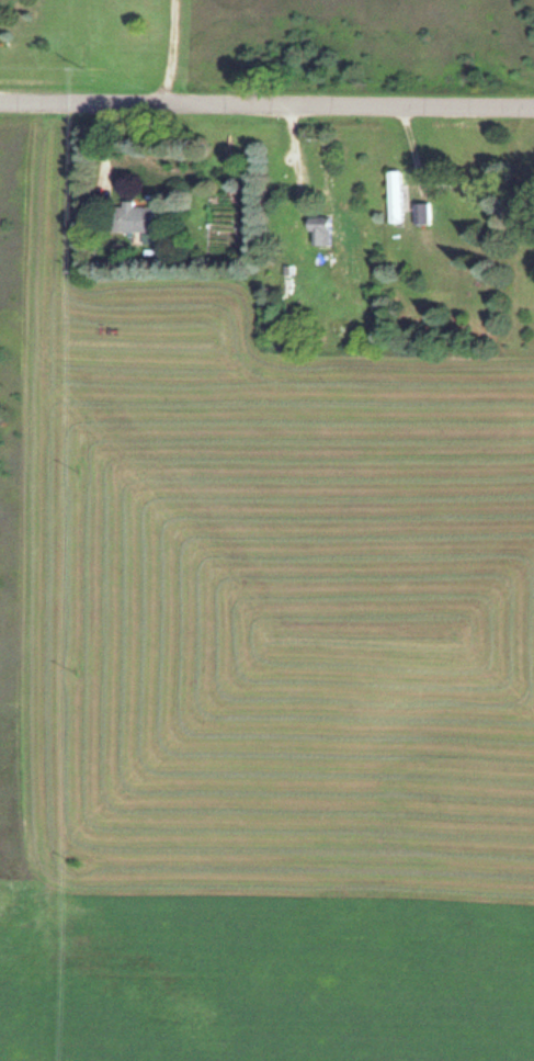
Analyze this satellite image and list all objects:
road: (266, 108)
building: (393, 195)
building: (420, 212)
building: (129, 217)
building: (318, 228)

